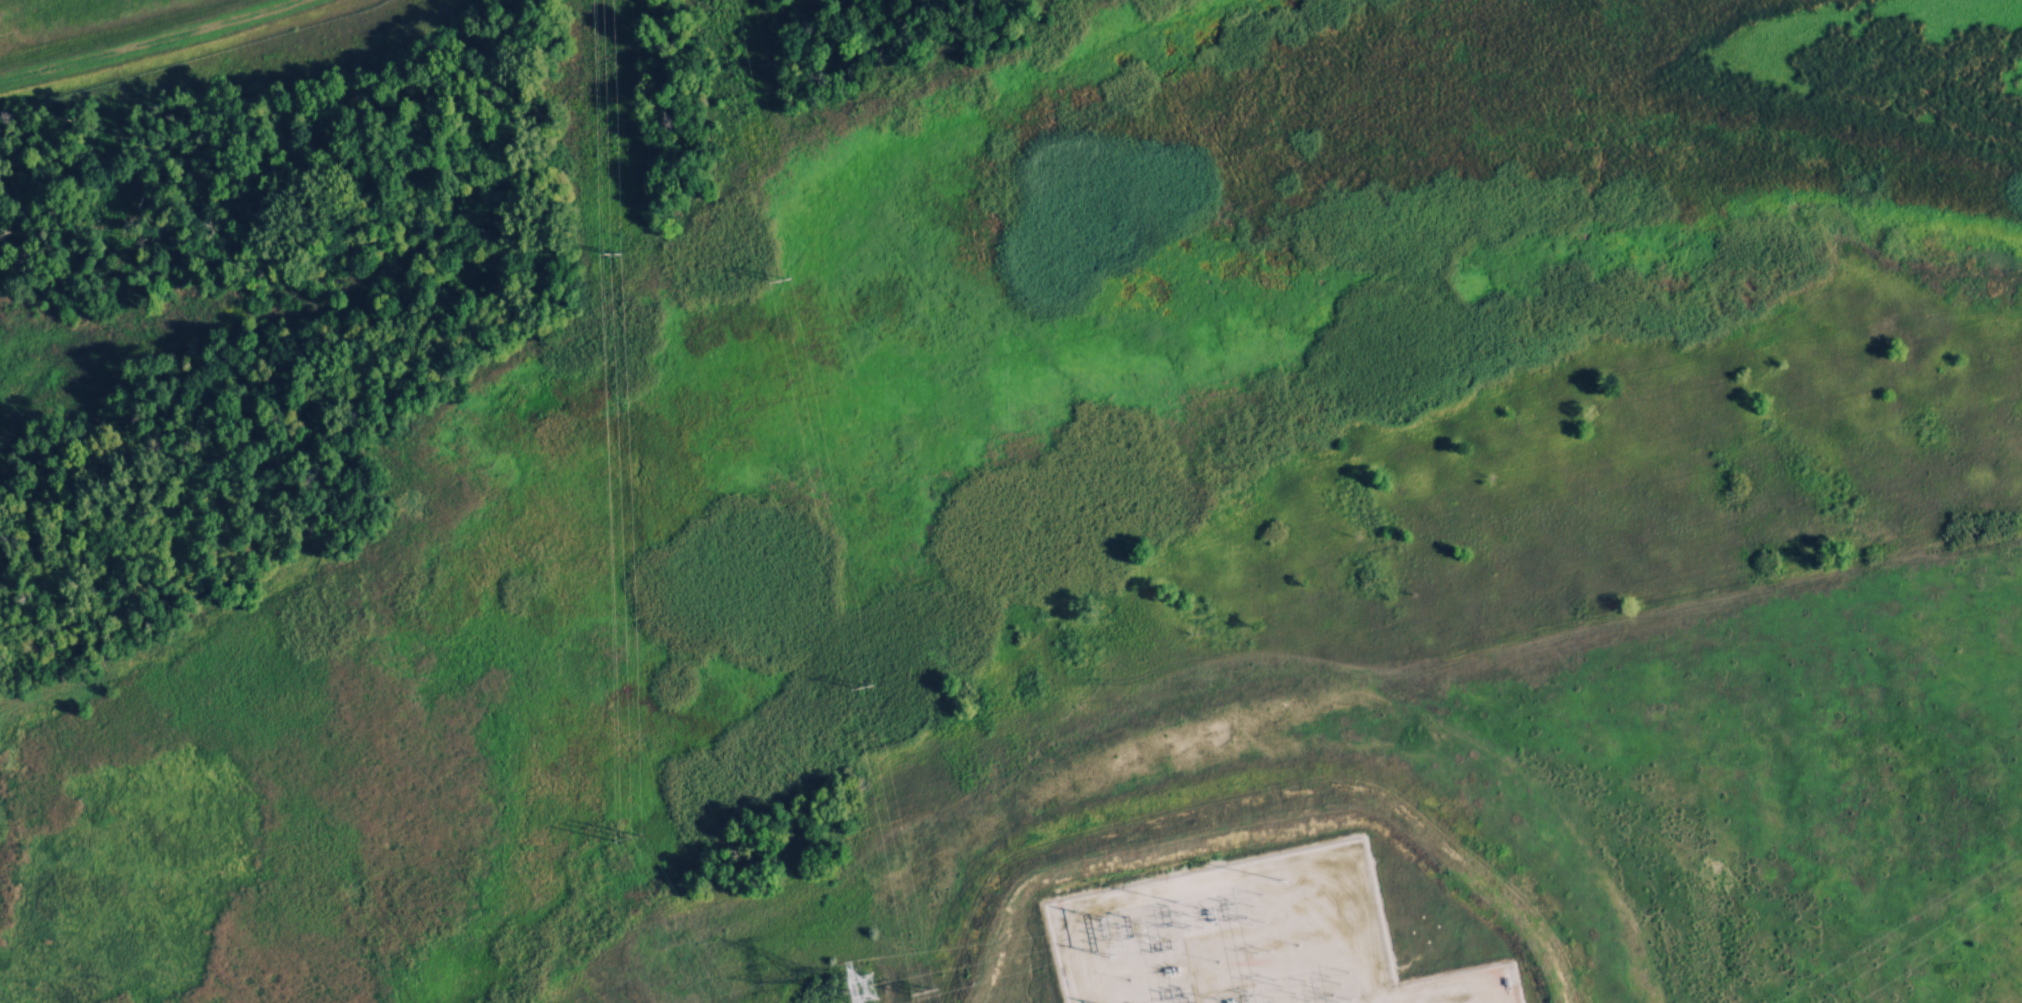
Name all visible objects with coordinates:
power tower: (624, 255)
building: (590, 258)
power tower: (795, 272)
power tower: (880, 686)
power tower: (642, 831)
power substation: (1248, 938)
power tower: (869, 983)
power tower: (941, 987)

